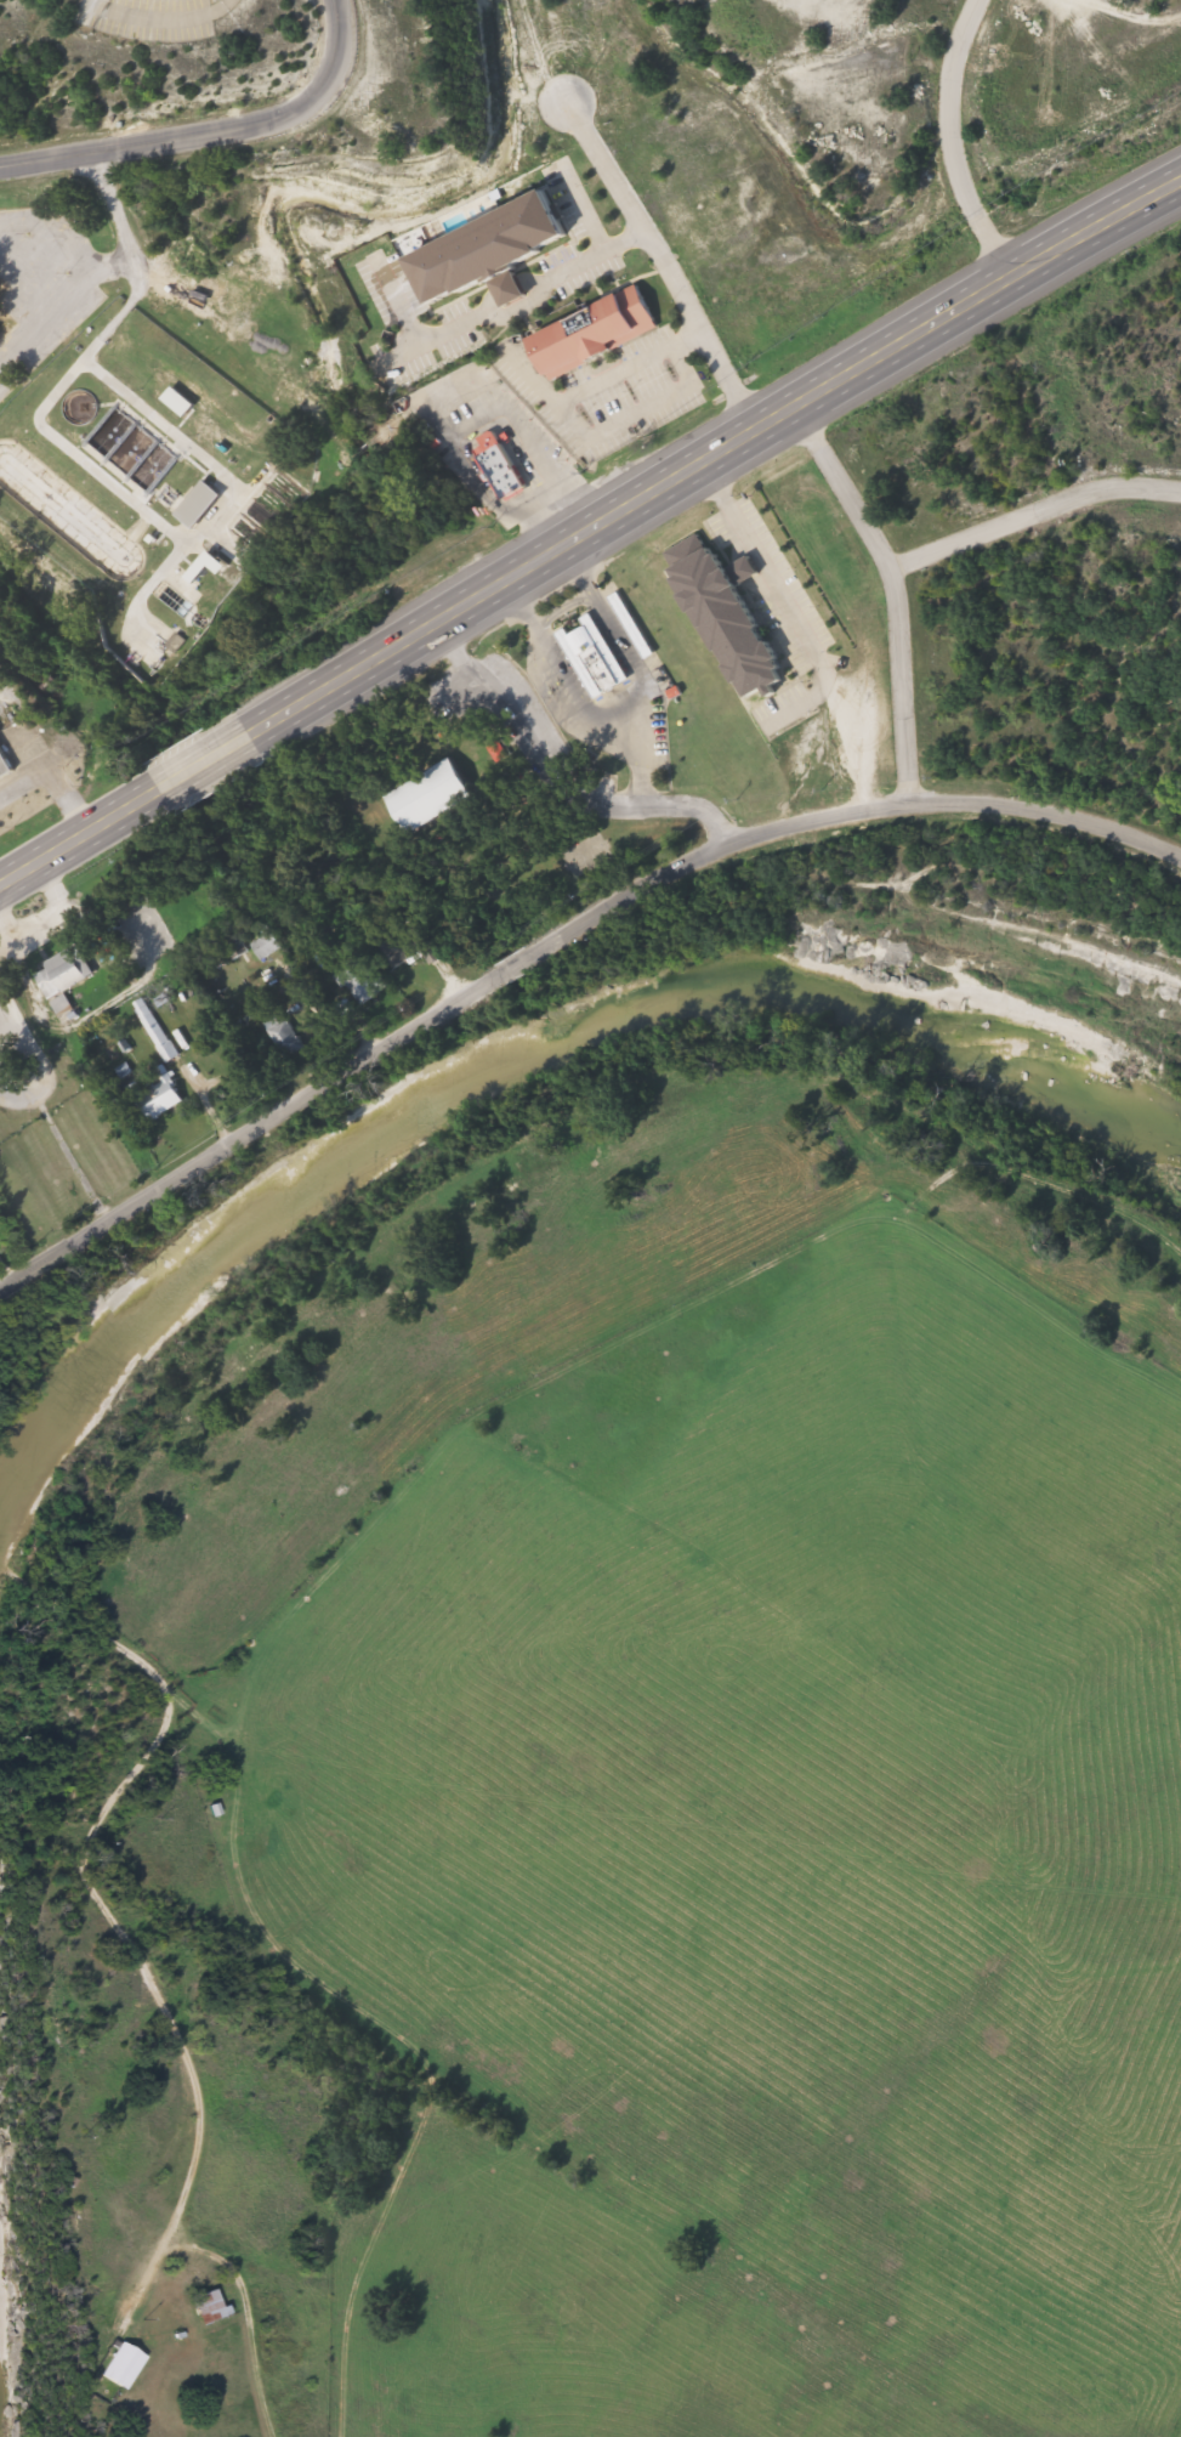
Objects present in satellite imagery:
road: (157, 16)
road: (212, 136)
road: (949, 144)
road: (53, 214)
building: (479, 253)
road: (93, 256)
road: (663, 265)
road: (489, 314)
building: (584, 334)
road: (904, 339)
road: (596, 385)
road: (427, 407)
road: (635, 413)
building: (490, 467)
building: (194, 505)
road: (1032, 509)
road: (896, 594)
road: (563, 610)
building: (715, 614)
building: (587, 656)
road: (313, 688)
road: (620, 705)
road: (640, 752)
building: (2, 769)
road: (50, 775)
road: (547, 776)
building: (421, 797)
park: (465, 803)
road: (1050, 815)
park: (583, 855)
building: (59, 973)
road: (438, 1004)
building: (279, 1035)
building: (154, 1101)
road: (237, 2284)
building: (204, 2308)
building: (115, 2367)

